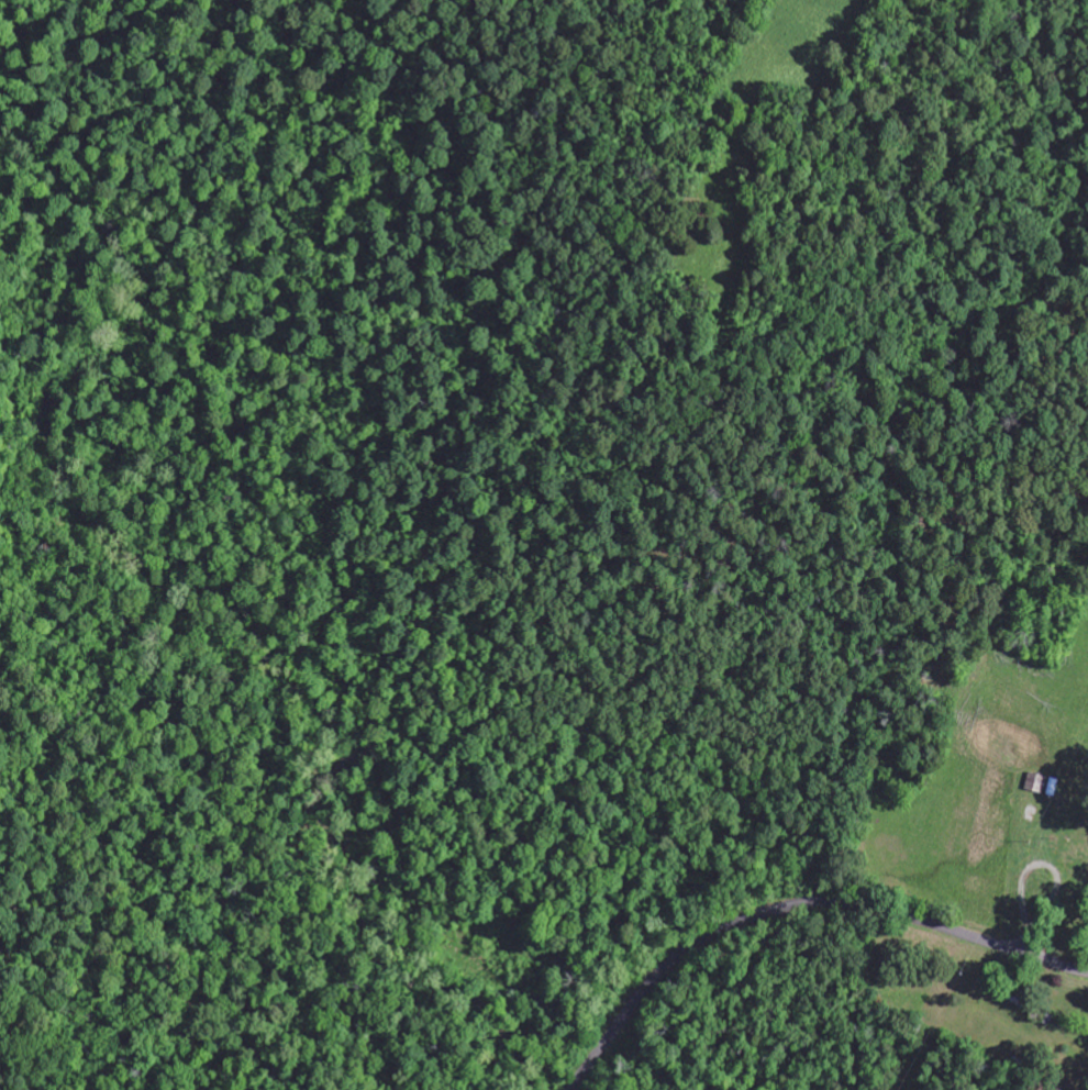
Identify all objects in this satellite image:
building: (1033, 785)
building: (1075, 853)
road: (798, 910)

